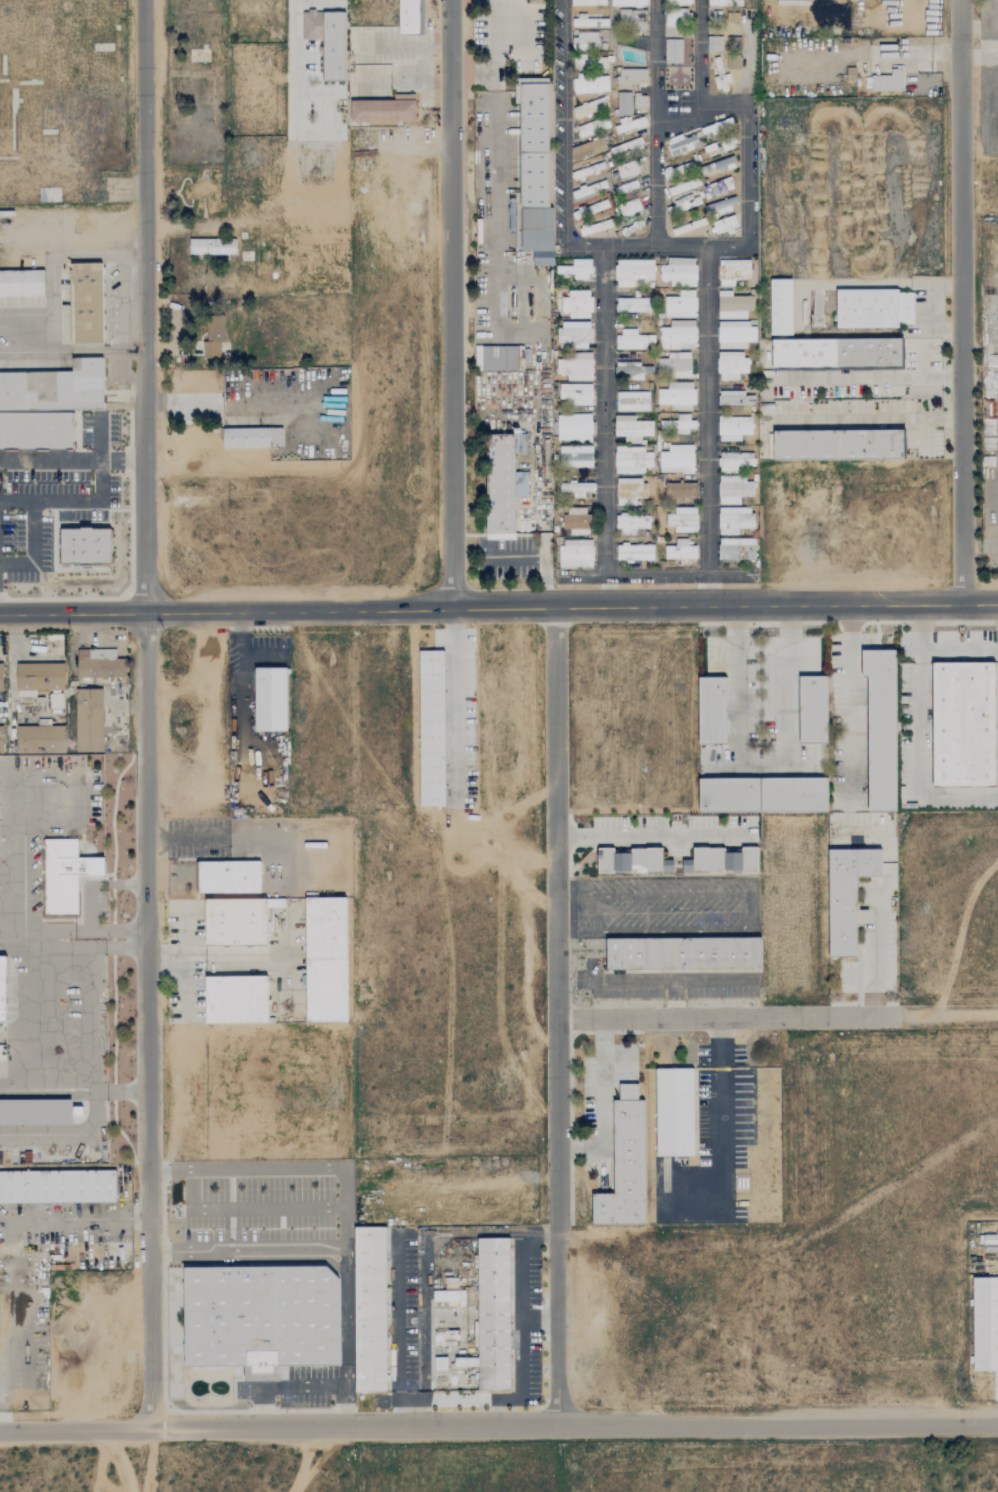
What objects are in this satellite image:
building: (588, 2)
building: (628, 2)
building: (722, 2)
building: (678, 12)
building: (408, 15)
building: (587, 21)
building: (635, 22)
building: (327, 39)
road: (405, 41)
building: (584, 41)
building: (714, 44)
building: (673, 51)
road: (700, 52)
road: (494, 59)
building: (734, 59)
building: (592, 61)
parking lot: (390, 62)
road: (657, 64)
building: (719, 75)
building: (632, 76)
parking lot: (311, 80)
road: (422, 81)
building: (888, 81)
building: (590, 85)
road: (293, 88)
road: (315, 93)
building: (639, 101)
building: (623, 103)
building: (590, 107)
building: (384, 109)
building: (593, 126)
building: (717, 126)
road: (412, 141)
road: (565, 141)
building: (682, 144)
building: (512, 146)
building: (626, 147)
building: (589, 149)
building: (719, 166)
building: (588, 168)
building: (627, 169)
building: (678, 170)
building: (684, 186)
building: (717, 186)
building: (626, 187)
building: (589, 189)
road: (656, 189)
building: (201, 191)
road: (747, 199)
building: (719, 205)
building: (629, 207)
building: (589, 208)
building: (725, 224)
building: (688, 226)
building: (212, 246)
road: (98, 257)
building: (577, 269)
building: (733, 271)
building: (633, 272)
building: (679, 272)
building: (22, 282)
parking lot: (115, 302)
road: (962, 302)
building: (87, 303)
road: (119, 303)
building: (818, 303)
road: (452, 304)
building: (577, 304)
road: (51, 305)
building: (632, 305)
building: (680, 305)
building: (734, 305)
building: (781, 307)
building: (874, 308)
road: (26, 319)
parking lot: (39, 325)
building: (574, 334)
building: (736, 334)
building: (678, 335)
building: (212, 337)
building: (632, 340)
road: (99, 350)
building: (869, 352)
road: (26, 353)
building: (804, 353)
building: (498, 358)
building: (675, 365)
building: (731, 365)
building: (575, 367)
building: (633, 371)
building: (55, 386)
building: (575, 394)
building: (677, 396)
building: (735, 398)
building: (632, 401)
road: (220, 403)
building: (288, 409)
road: (868, 420)
building: (678, 424)
road: (708, 426)
building: (574, 427)
road: (605, 427)
building: (631, 428)
building: (734, 428)
building: (36, 429)
road: (924, 437)
building: (839, 443)
building: (575, 457)
building: (677, 459)
building: (631, 460)
building: (735, 461)
road: (73, 462)
building: (498, 486)
building: (576, 487)
building: (680, 488)
building: (631, 489)
road: (101, 490)
building: (735, 490)
building: (576, 520)
building: (683, 520)
building: (734, 520)
building: (631, 523)
road: (34, 530)
building: (85, 545)
building: (736, 549)
building: (680, 550)
building: (634, 552)
building: (576, 553)
road: (657, 573)
road: (498, 608)
building: (102, 666)
building: (1, 677)
building: (39, 678)
building: (272, 700)
building: (55, 701)
road: (853, 704)
road: (456, 707)
building: (813, 709)
building: (712, 710)
parking lot: (460, 711)
road: (146, 714)
building: (89, 721)
building: (964, 723)
building: (432, 726)
building: (881, 726)
road: (918, 738)
building: (40, 739)
building: (1, 740)
road: (762, 768)
building: (794, 793)
building: (729, 794)
road: (186, 838)
road: (496, 851)
building: (633, 860)
building: (722, 860)
building: (66, 873)
building: (229, 876)
building: (847, 896)
road: (535, 897)
building: (658, 901)
road: (91, 909)
road: (748, 912)
road: (875, 913)
building: (236, 922)
building: (326, 928)
road: (183, 941)
road: (50, 943)
road: (528, 953)
building: (684, 953)
road: (699, 981)
road: (636, 982)
road: (183, 983)
parking lot: (665, 983)
building: (3, 990)
building: (326, 990)
building: (237, 999)
road: (949, 1015)
road: (557, 1016)
road: (729, 1017)
road: (90, 1018)
building: (628, 1091)
building: (35, 1111)
building: (675, 1112)
road: (724, 1118)
building: (625, 1168)
building: (58, 1185)
road: (247, 1209)
road: (38, 1226)
road: (347, 1238)
building: (990, 1243)
road: (249, 1251)
road: (518, 1292)
building: (448, 1295)
building: (371, 1307)
building: (495, 1314)
building: (261, 1318)
building: (985, 1324)
road: (403, 1333)
road: (520, 1359)
building: (440, 1364)
road: (342, 1405)
road: (498, 1426)
road: (152, 1460)

